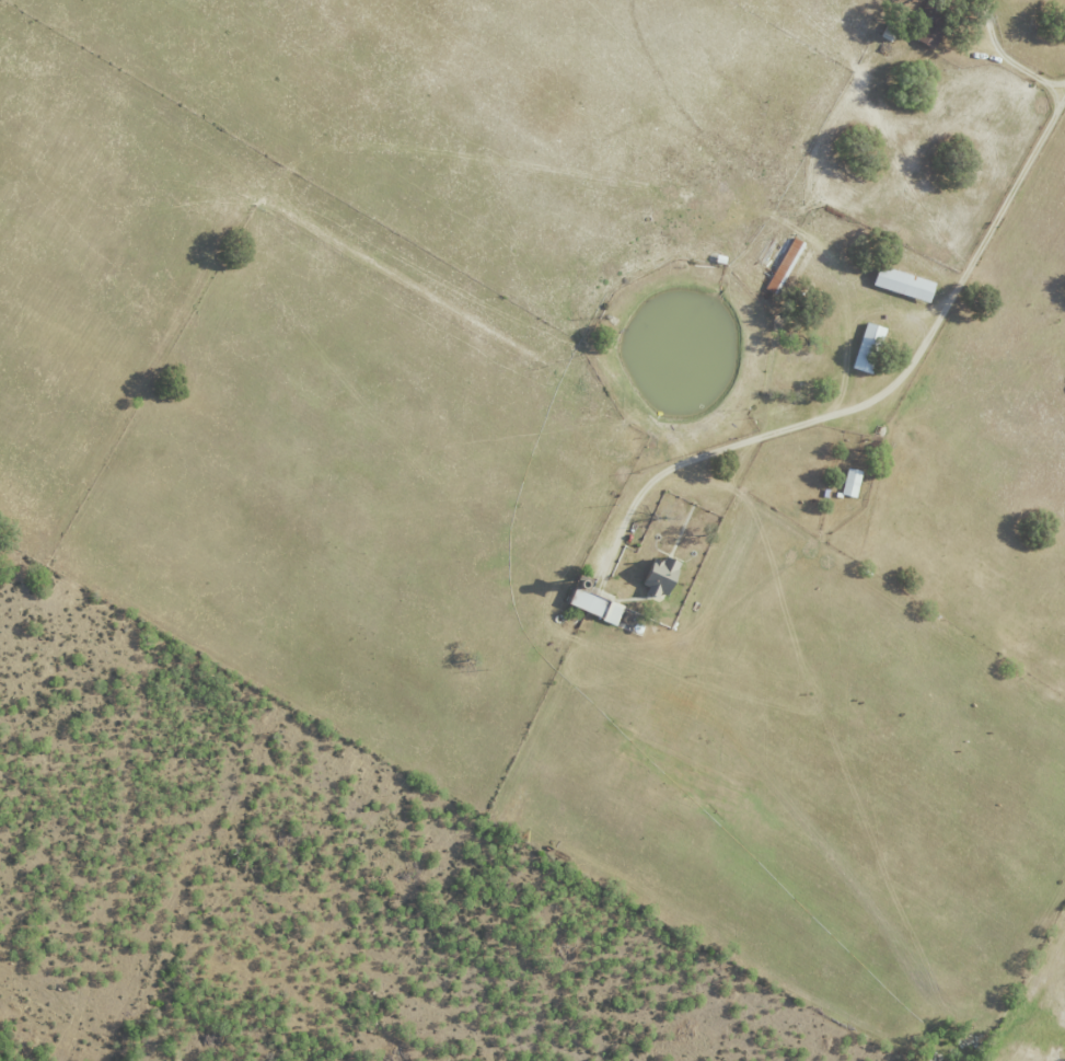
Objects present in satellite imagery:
building: (935, 23)
road: (1009, 58)
building: (787, 264)
building: (907, 284)
building: (871, 347)
road: (887, 388)
building: (853, 482)
building: (665, 576)

